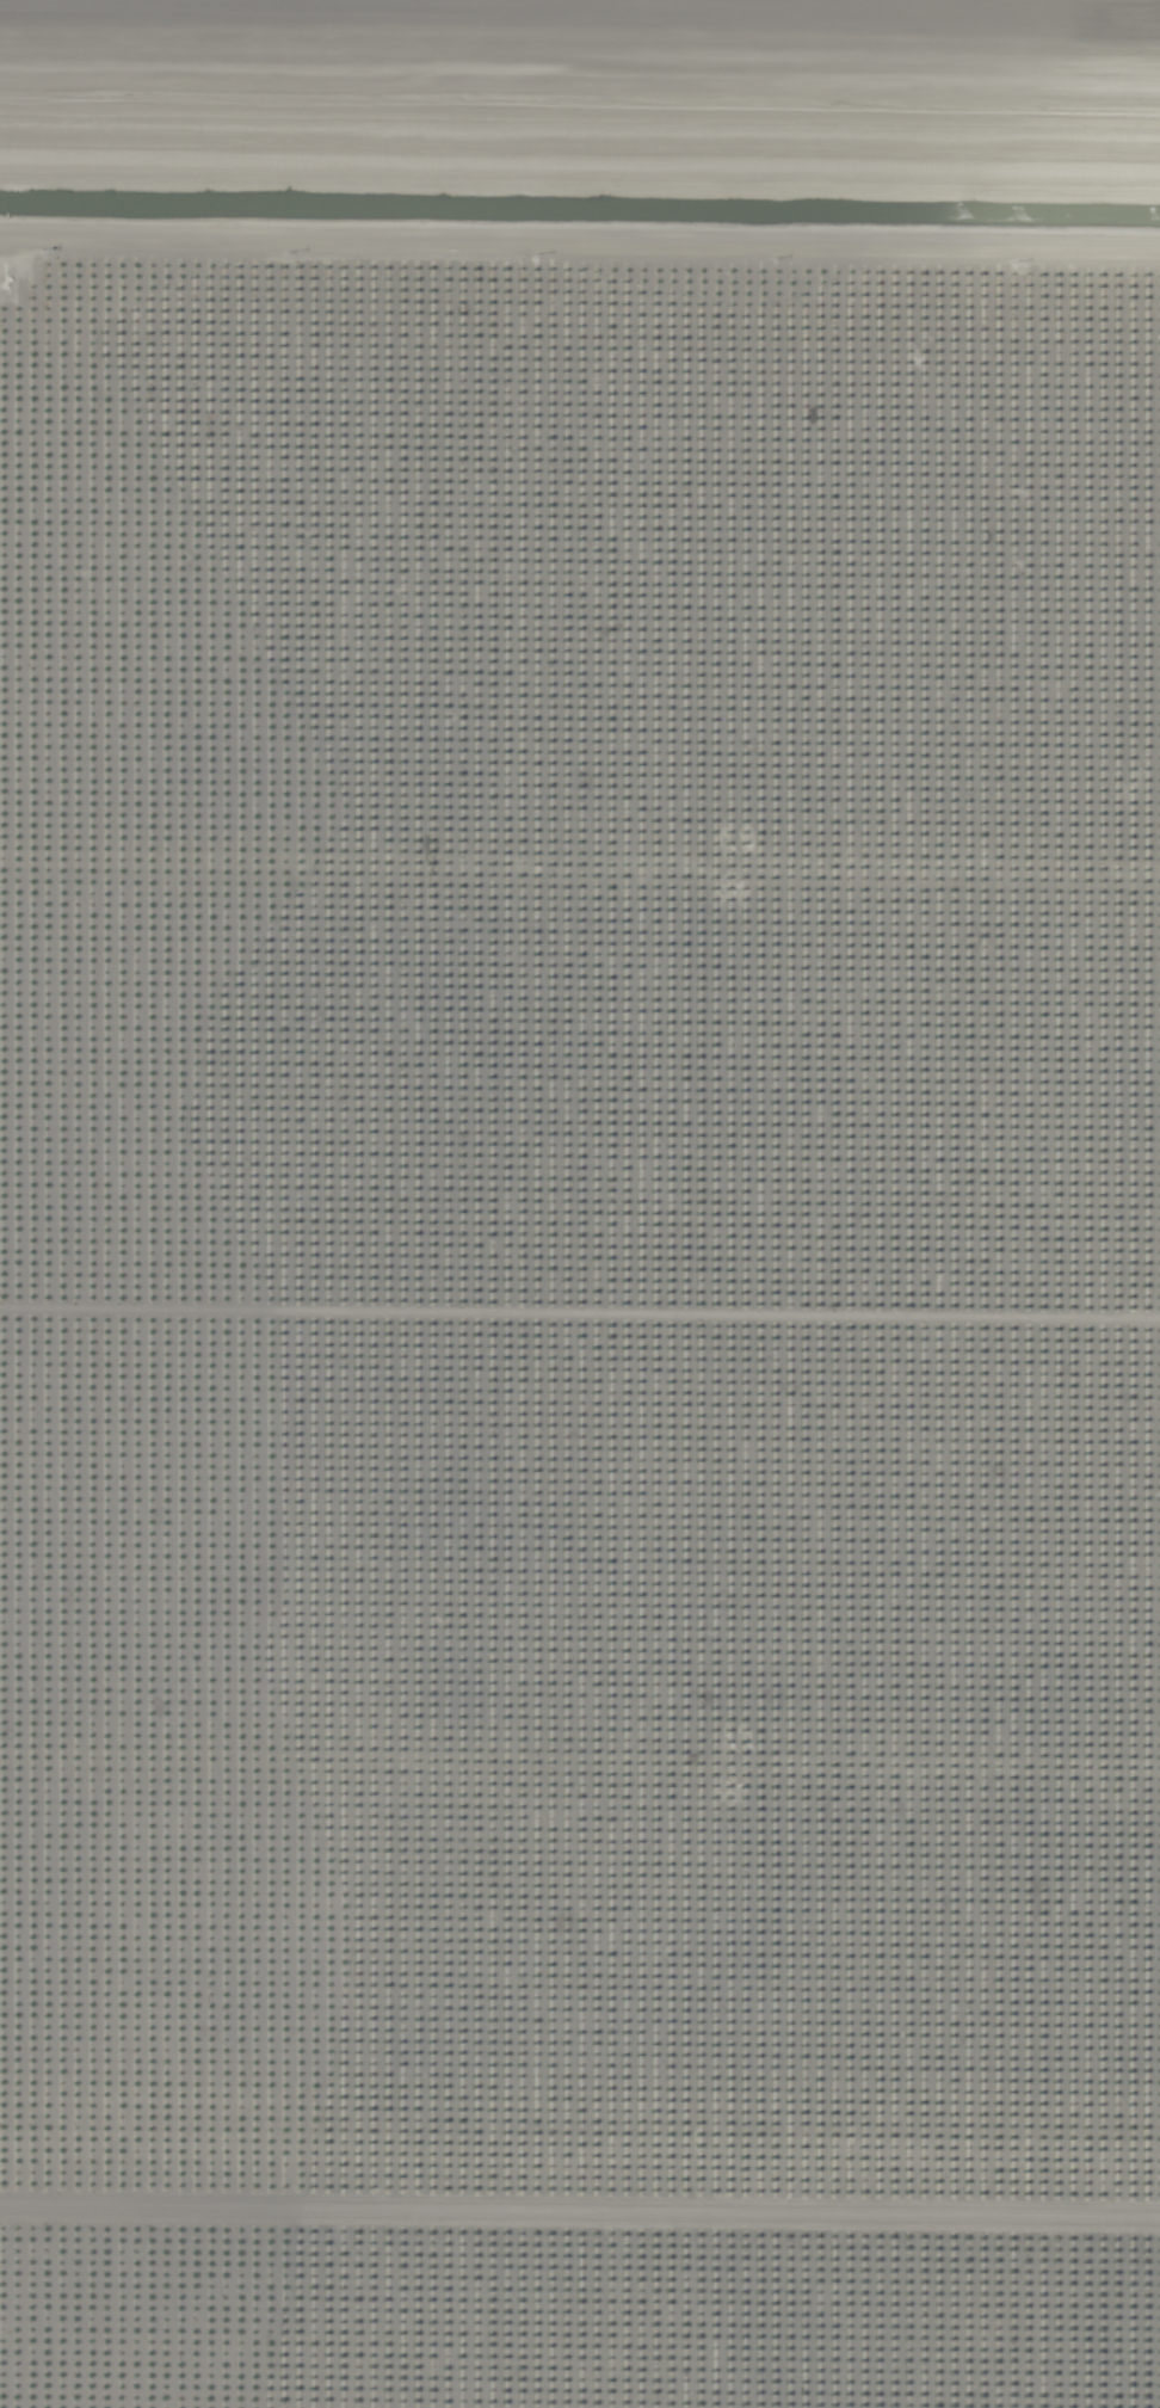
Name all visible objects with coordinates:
road: (580, 105)
road: (580, 255)
crop: (580, 1203)

